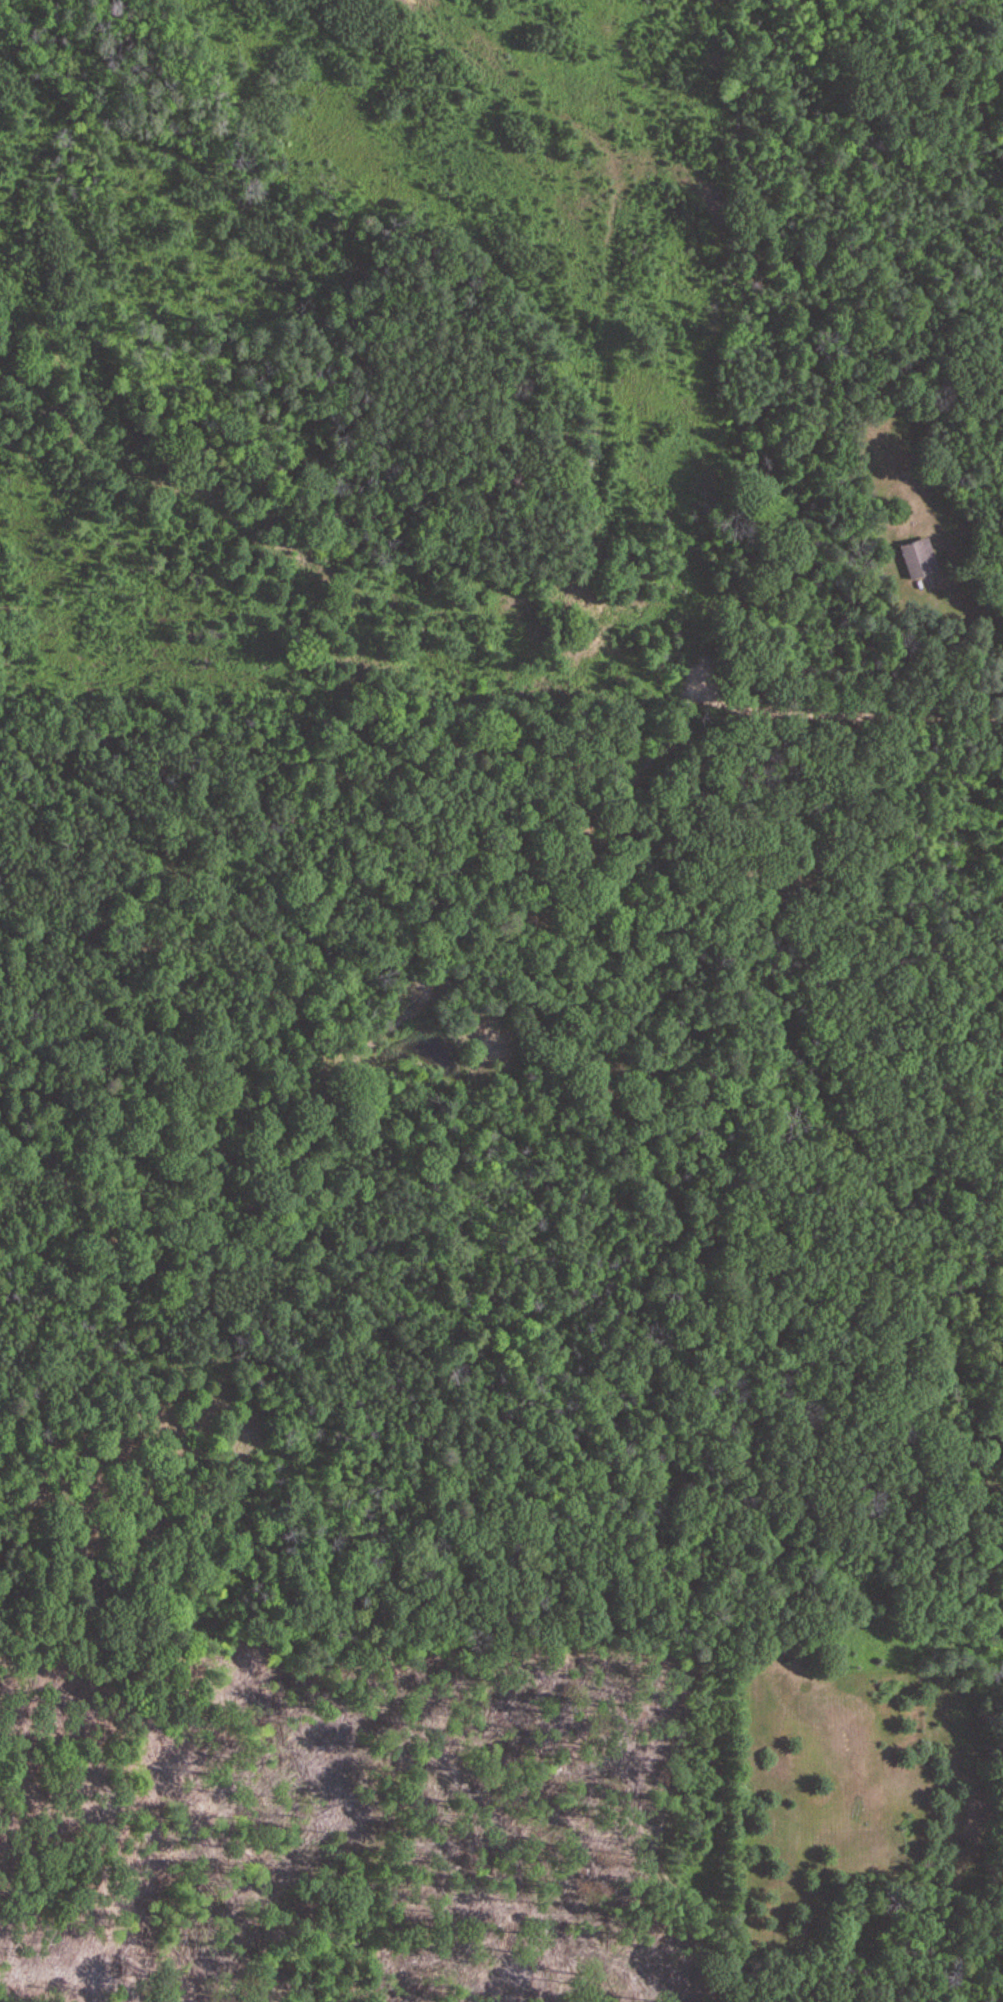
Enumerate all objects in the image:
building: (916, 559)
road: (844, 708)

